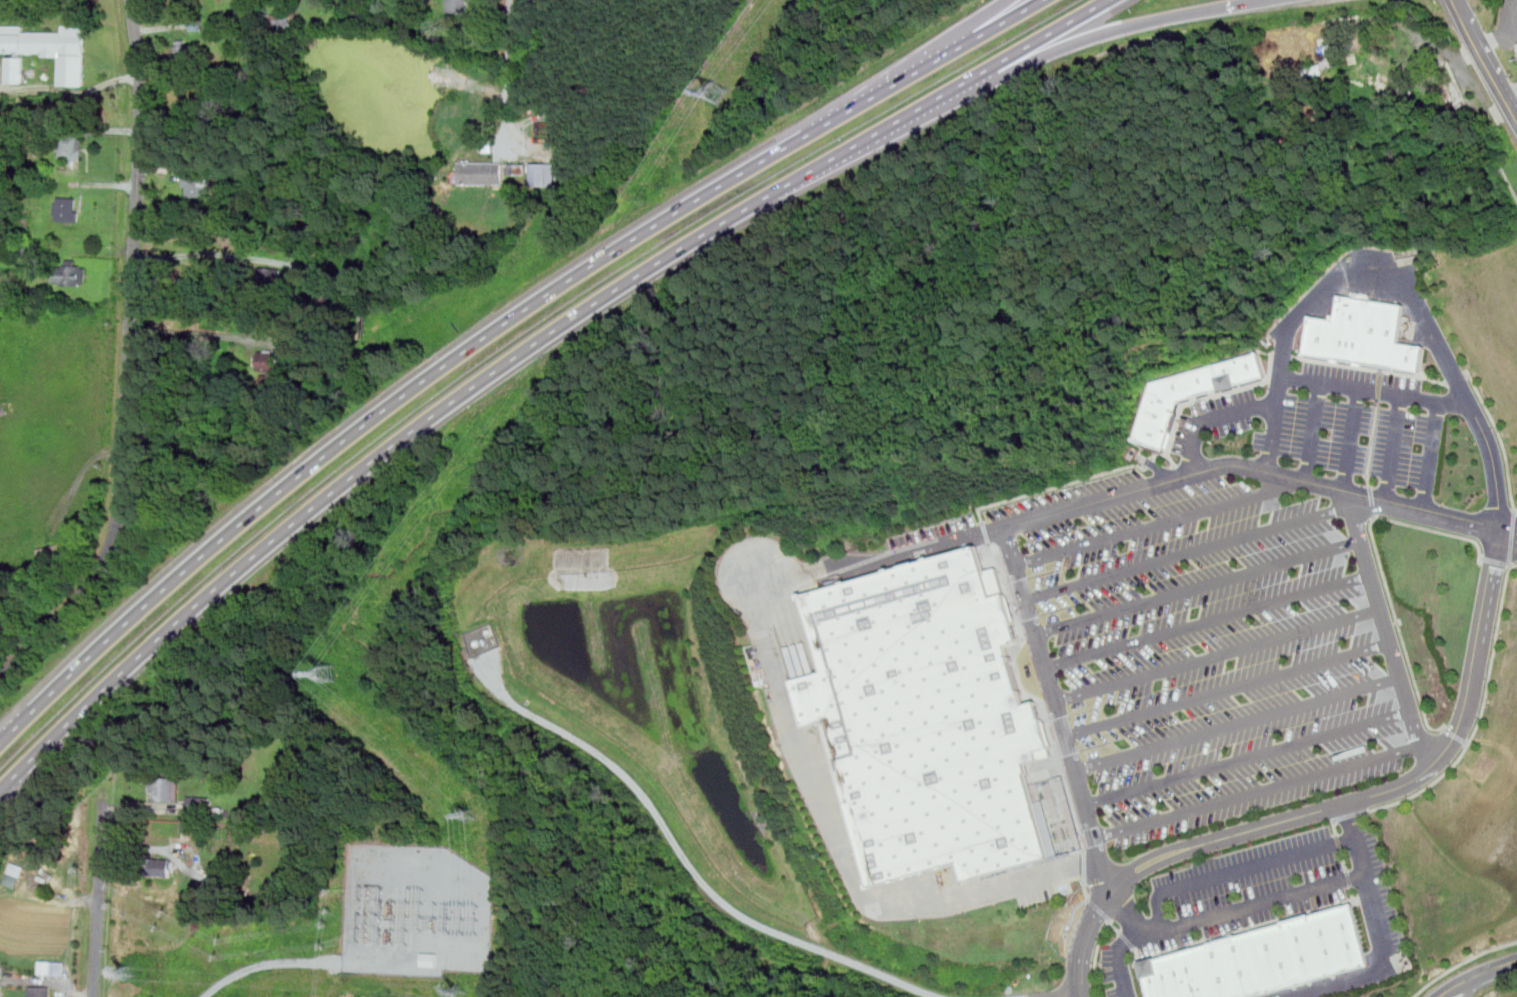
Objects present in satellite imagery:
road: (1244, 3)
building: (456, 5)
building: (285, 20)
building: (196, 24)
road: (958, 31)
road: (1077, 41)
building: (1297, 42)
road: (1434, 42)
building: (51, 48)
building: (184, 49)
road: (1486, 58)
road: (508, 59)
building: (16, 69)
building: (1455, 95)
power tower: (714, 99)
building: (72, 148)
building: (515, 169)
building: (479, 173)
building: (541, 175)
building: (197, 184)
road: (1513, 188)
building: (66, 208)
road: (213, 253)
building: (70, 274)
building: (273, 276)
road: (1420, 308)
road: (491, 332)
road: (194, 334)
building: (1366, 334)
road: (523, 353)
building: (269, 360)
road: (128, 362)
road: (1378, 391)
building: (1194, 393)
building: (5, 414)
road: (1215, 420)
road: (1314, 431)
road: (1273, 436)
road: (1500, 437)
road: (1351, 439)
road: (1395, 448)
road: (1433, 456)
road: (79, 483)
road: (1516, 513)
road: (1160, 521)
road: (1510, 532)
road: (1513, 540)
building: (50, 550)
road: (1191, 552)
road: (1495, 562)
road: (842, 563)
road: (1512, 567)
road: (1382, 572)
road: (1201, 585)
road: (1210, 619)
road: (1390, 628)
road: (1220, 653)
road: (1491, 660)
power tower: (338, 672)
road: (1230, 687)
road: (1055, 695)
building: (929, 717)
road: (1239, 722)
road: (1453, 738)
road: (1249, 757)
building: (161, 789)
road: (1257, 789)
road: (1421, 791)
building: (833, 795)
building: (201, 805)
road: (1336, 806)
power tower: (472, 815)
road: (1348, 816)
road: (1335, 828)
road: (1339, 843)
road: (686, 860)
road: (1344, 861)
road: (1084, 864)
building: (160, 867)
road: (1240, 869)
building: (16, 870)
road: (1348, 879)
building: (12, 880)
road: (1087, 891)
road: (99, 899)
road: (1253, 901)
power substation: (418, 912)
road: (1101, 912)
road: (1248, 928)
road: (1116, 929)
road: (1381, 934)
road: (1131, 936)
road: (1129, 940)
road: (1098, 957)
building: (1265, 959)
building: (427, 960)
road: (1132, 961)
road: (1462, 961)
road: (300, 963)
building: (50, 968)
power tower: (132, 975)
road: (1477, 975)
road: (1461, 990)
building: (2, 991)
power tower: (462, 991)
building: (38, 992)
road: (1071, 996)

